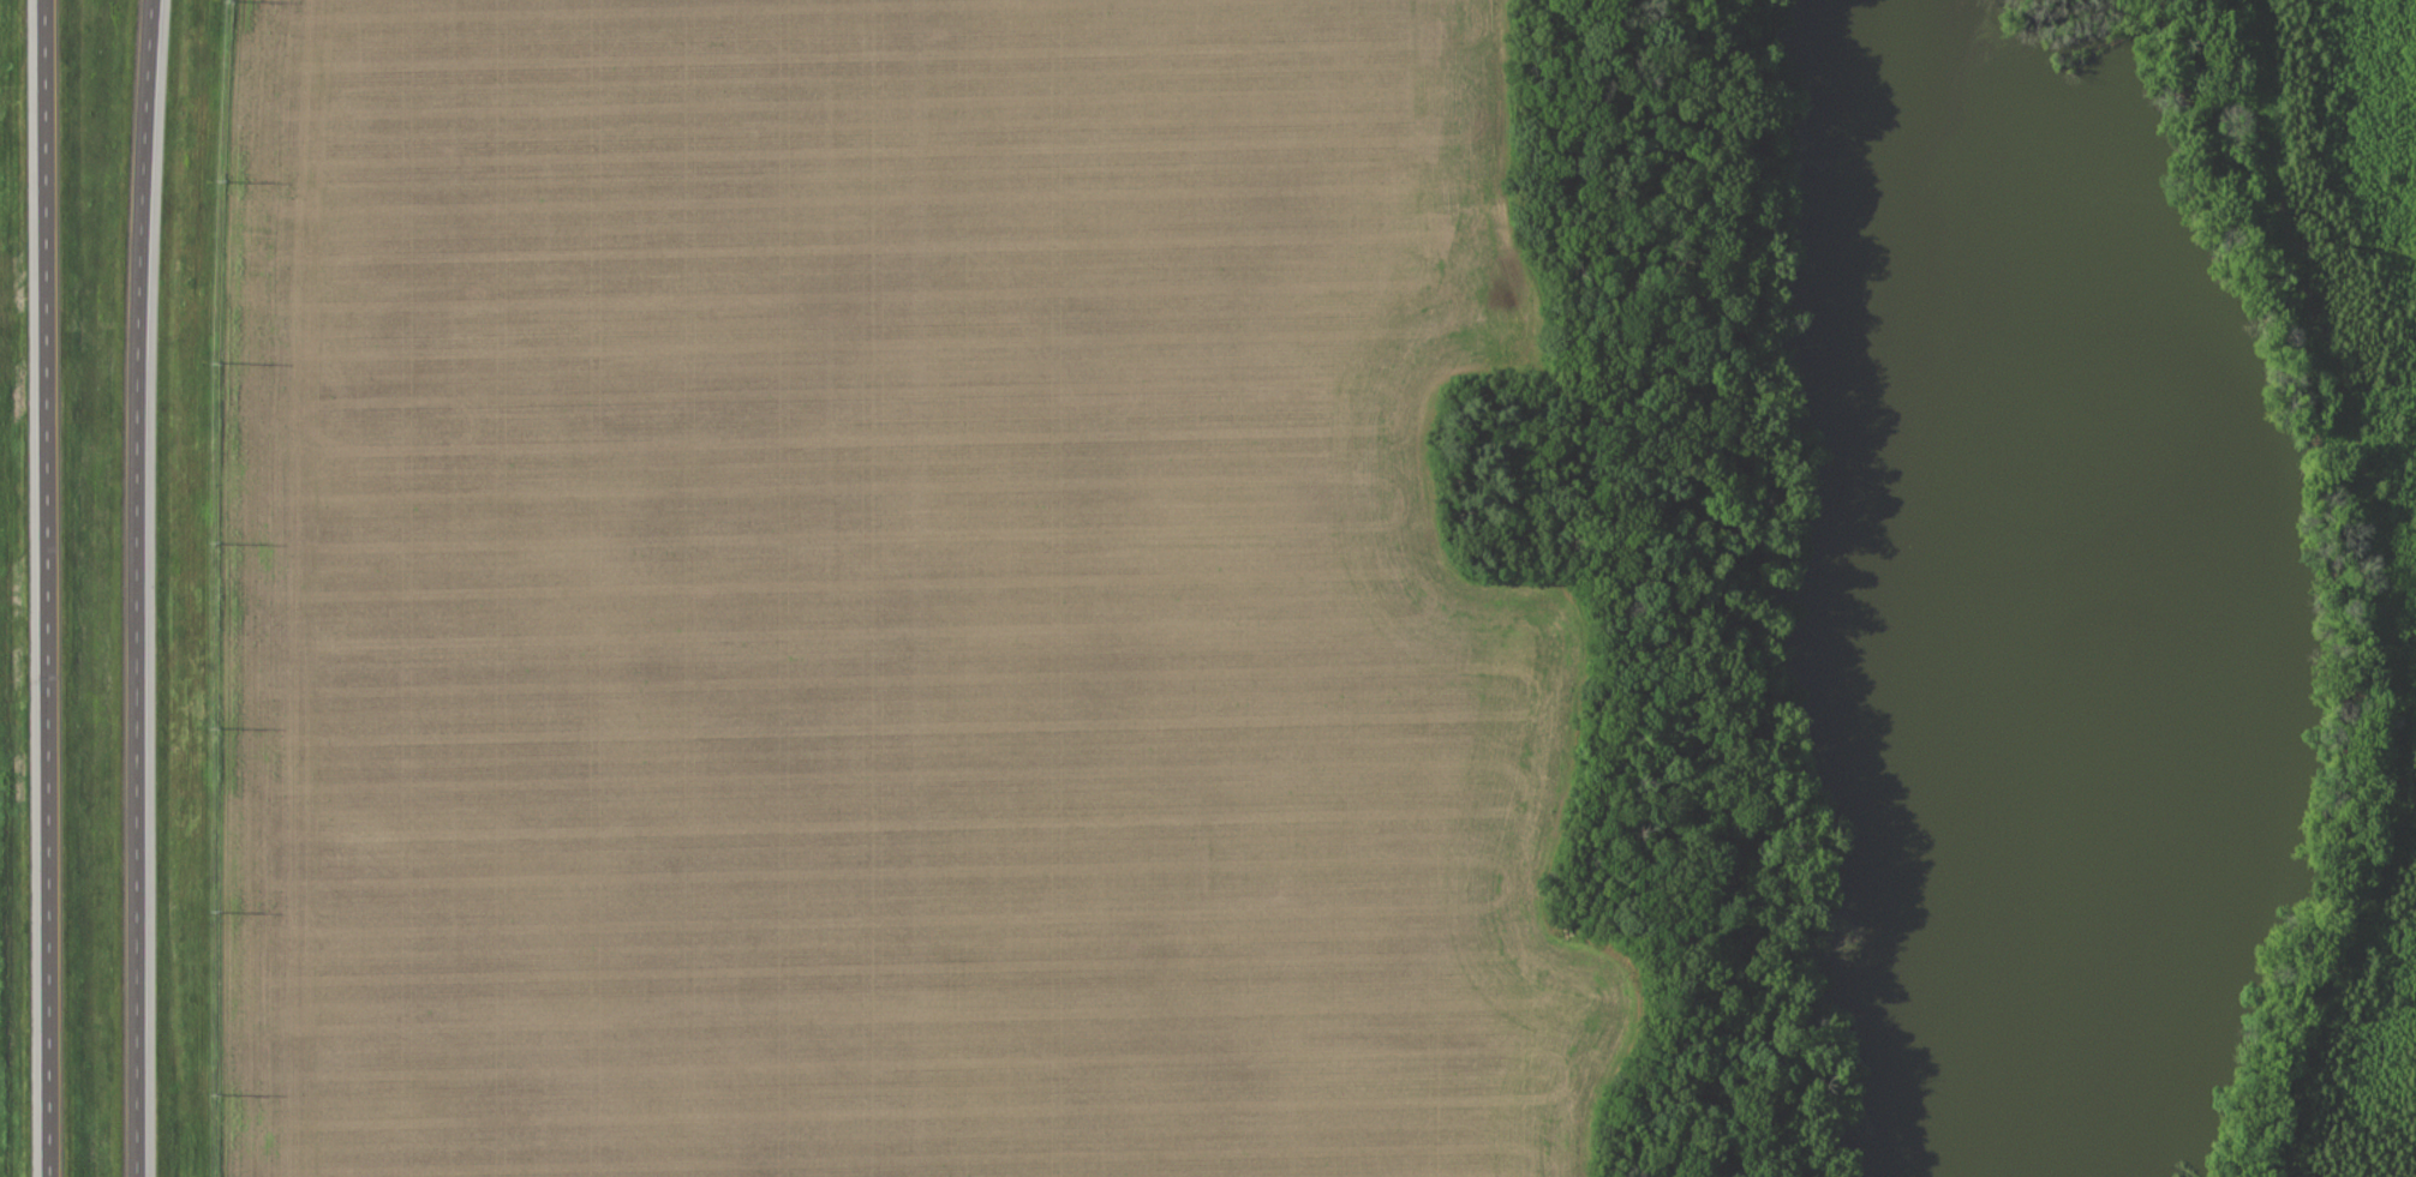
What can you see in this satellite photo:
road: (44, 588)
road: (134, 588)

